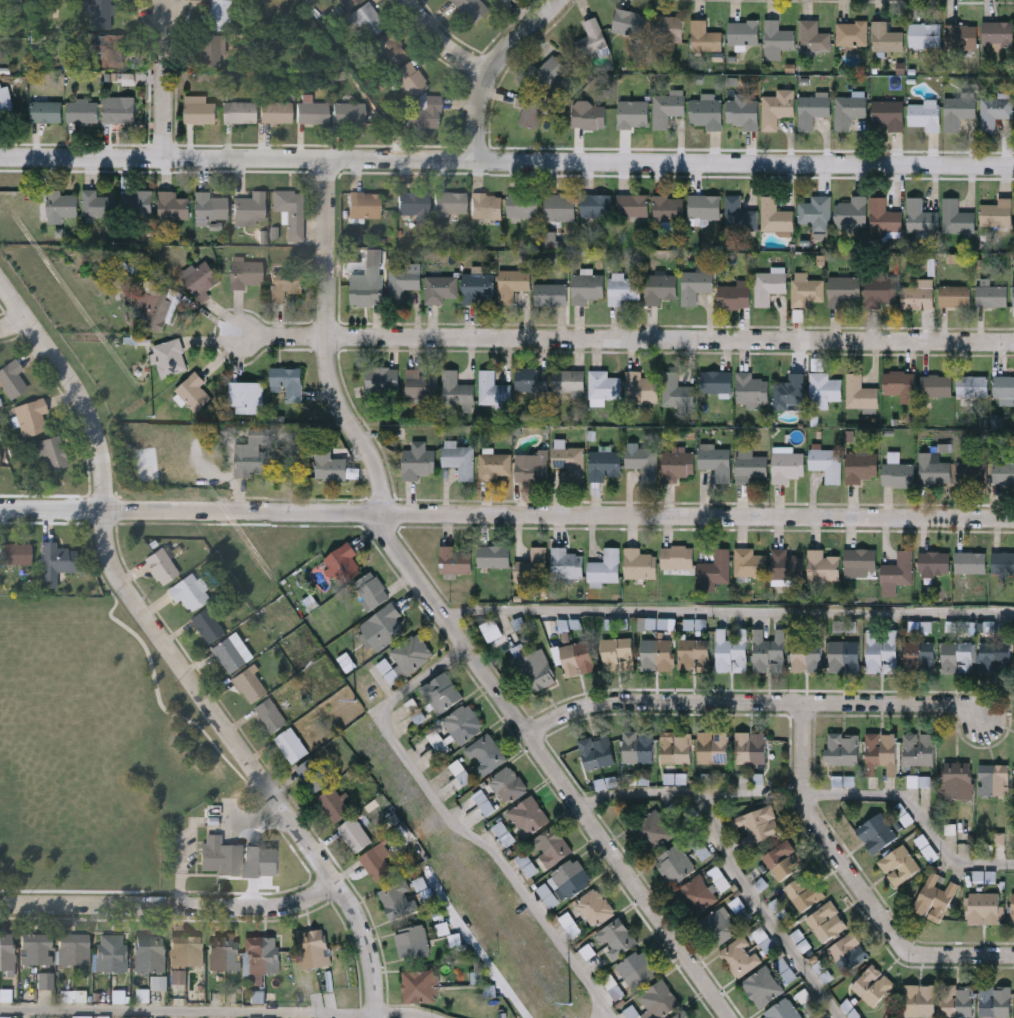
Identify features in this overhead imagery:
building: (503, 0)
building: (350, 4)
building: (469, 8)
building: (101, 14)
building: (221, 14)
building: (629, 21)
building: (368, 22)
building: (668, 28)
building: (744, 32)
building: (852, 32)
building: (998, 32)
building: (924, 34)
building: (705, 35)
building: (813, 35)
building: (961, 36)
building: (591, 37)
building: (778, 37)
building: (886, 37)
road: (444, 44)
building: (210, 50)
building: (110, 51)
building: (390, 52)
road: (495, 67)
building: (551, 71)
building: (129, 78)
road: (164, 82)
building: (410, 82)
building: (5, 99)
building: (777, 107)
building: (813, 107)
building: (199, 108)
building: (530, 108)
building: (667, 108)
building: (849, 109)
building: (743, 110)
building: (958, 110)
building: (82, 111)
building: (118, 111)
building: (994, 111)
building: (46, 112)
building: (239, 112)
building: (276, 112)
building: (312, 112)
building: (707, 112)
building: (349, 113)
building: (588, 113)
building: (633, 113)
building: (889, 113)
building: (925, 114)
building: (428, 115)
building: (399, 128)
road: (507, 159)
building: (61, 204)
building: (137, 204)
building: (97, 205)
building: (451, 205)
building: (414, 206)
building: (524, 206)
building: (595, 206)
building: (173, 207)
building: (365, 207)
building: (486, 207)
building: (632, 207)
building: (210, 208)
building: (560, 208)
building: (704, 208)
building: (250, 209)
building: (668, 209)
building: (815, 212)
building: (851, 213)
building: (997, 213)
building: (291, 214)
building: (738, 216)
building: (775, 217)
building: (920, 217)
building: (885, 218)
building: (956, 218)
building: (549, 237)
building: (373, 256)
building: (555, 256)
building: (952, 258)
building: (131, 266)
building: (247, 274)
building: (201, 281)
building: (403, 282)
building: (513, 285)
building: (285, 286)
building: (695, 287)
building: (768, 287)
building: (477, 288)
building: (660, 289)
building: (440, 290)
building: (588, 290)
building: (623, 290)
building: (807, 291)
building: (844, 291)
building: (367, 292)
building: (881, 292)
building: (990, 294)
building: (551, 295)
building: (1013, 295)
building: (919, 296)
building: (955, 297)
building: (734, 298)
building: (154, 308)
road: (14, 324)
road: (629, 340)
road: (328, 341)
building: (168, 359)
building: (382, 379)
building: (531, 380)
building: (11, 381)
building: (287, 382)
building: (568, 382)
building: (715, 383)
building: (422, 384)
building: (900, 385)
building: (604, 386)
building: (936, 386)
building: (972, 387)
building: (1004, 387)
building: (640, 388)
building: (456, 390)
building: (492, 390)
building: (824, 390)
building: (751, 391)
building: (676, 392)
building: (193, 393)
building: (787, 394)
building: (860, 394)
building: (245, 398)
power tower: (144, 414)
building: (31, 418)
building: (997, 422)
building: (944, 447)
building: (53, 455)
building: (459, 458)
building: (642, 460)
building: (248, 461)
building: (568, 461)
building: (717, 461)
building: (418, 462)
building: (603, 463)
building: (677, 463)
building: (750, 464)
building: (827, 464)
building: (493, 465)
building: (531, 465)
building: (787, 467)
building: (861, 467)
building: (331, 468)
building: (934, 470)
building: (354, 473)
building: (969, 473)
building: (1004, 474)
building: (899, 475)
road: (507, 512)
building: (15, 556)
building: (493, 557)
building: (677, 558)
building: (454, 562)
building: (749, 563)
building: (860, 563)
building: (55, 564)
building: (342, 564)
building: (566, 564)
building: (971, 564)
building: (1003, 564)
building: (604, 565)
building: (639, 565)
building: (935, 565)
building: (786, 566)
building: (532, 567)
building: (823, 567)
building: (161, 568)
building: (715, 569)
building: (899, 570)
building: (371, 592)
building: (189, 594)
road: (728, 610)
building: (207, 627)
building: (382, 628)
building: (490, 628)
building: (732, 651)
road: (173, 653)
building: (770, 653)
building: (618, 654)
building: (882, 654)
building: (411, 655)
building: (657, 655)
building: (694, 655)
building: (807, 656)
building: (845, 656)
building: (919, 656)
building: (228, 657)
building: (957, 658)
building: (578, 659)
building: (996, 659)
building: (533, 667)
building: (249, 686)
building: (442, 694)
road: (756, 703)
power tower: (354, 709)
building: (271, 716)
building: (463, 725)
building: (438, 743)
building: (291, 746)
building: (638, 747)
building: (713, 748)
building: (676, 749)
building: (751, 749)
building: (841, 749)
building: (919, 749)
park: (92, 750)
building: (596, 752)
building: (485, 755)
building: (882, 755)
road: (553, 765)
park: (119, 768)
building: (312, 776)
building: (995, 780)
building: (958, 781)
building: (508, 786)
building: (484, 802)
building: (334, 805)
road: (917, 813)
building: (529, 817)
road: (457, 824)
building: (756, 825)
building: (504, 833)
building: (653, 833)
building: (877, 834)
building: (355, 836)
building: (1000, 838)
building: (550, 848)
building: (219, 857)
road: (734, 858)
building: (262, 861)
building: (783, 861)
building: (377, 863)
building: (527, 863)
building: (675, 865)
building: (899, 866)
building: (987, 875)
building: (571, 879)
road: (859, 880)
building: (804, 892)
building: (548, 895)
building: (696, 896)
building: (935, 899)
building: (397, 901)
road: (171, 907)
building: (595, 908)
building: (1013, 908)
building: (985, 909)
building: (827, 922)
building: (571, 925)
building: (719, 927)
building: (617, 939)
building: (412, 943)
road: (476, 944)
building: (314, 949)
building: (36, 951)
building: (74, 951)
building: (186, 952)
building: (849, 953)
building: (6, 954)
building: (111, 954)
building: (149, 955)
building: (224, 955)
building: (740, 957)
building: (262, 958)
building: (637, 971)
building: (179, 977)
building: (45, 982)
building: (159, 984)
building: (873, 986)
building: (420, 987)
building: (762, 988)
building: (120, 997)
building: (258, 997)
building: (660, 1000)
power tower: (561, 1001)
building: (995, 1001)
building: (920, 1002)
building: (957, 1002)
road: (189, 1006)
building: (783, 1009)
road: (407, 1010)
building: (684, 1015)
building: (4, 1017)
building: (82, 1017)
building: (138, 1017)

